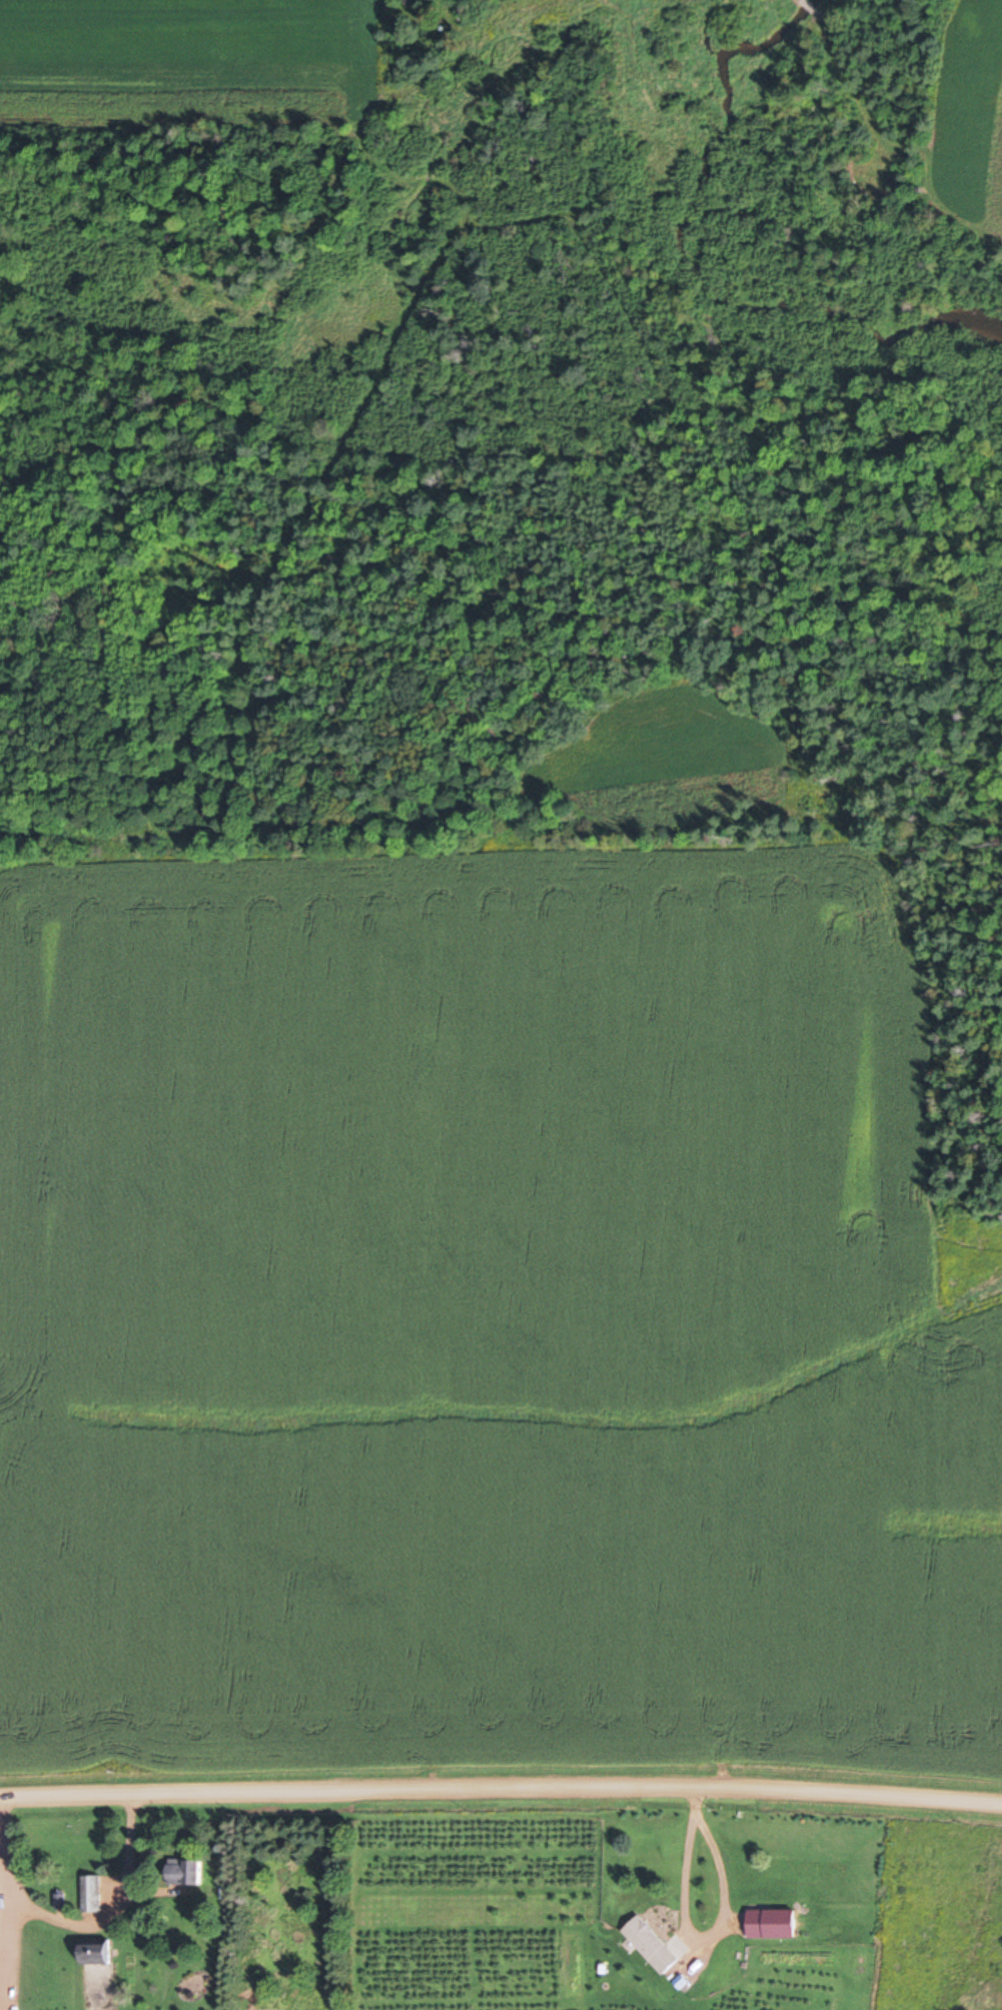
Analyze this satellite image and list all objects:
road: (501, 1786)
building: (192, 1872)
building: (94, 1892)
building: (0, 1911)
building: (777, 1922)
building: (656, 1945)
building: (102, 1950)

